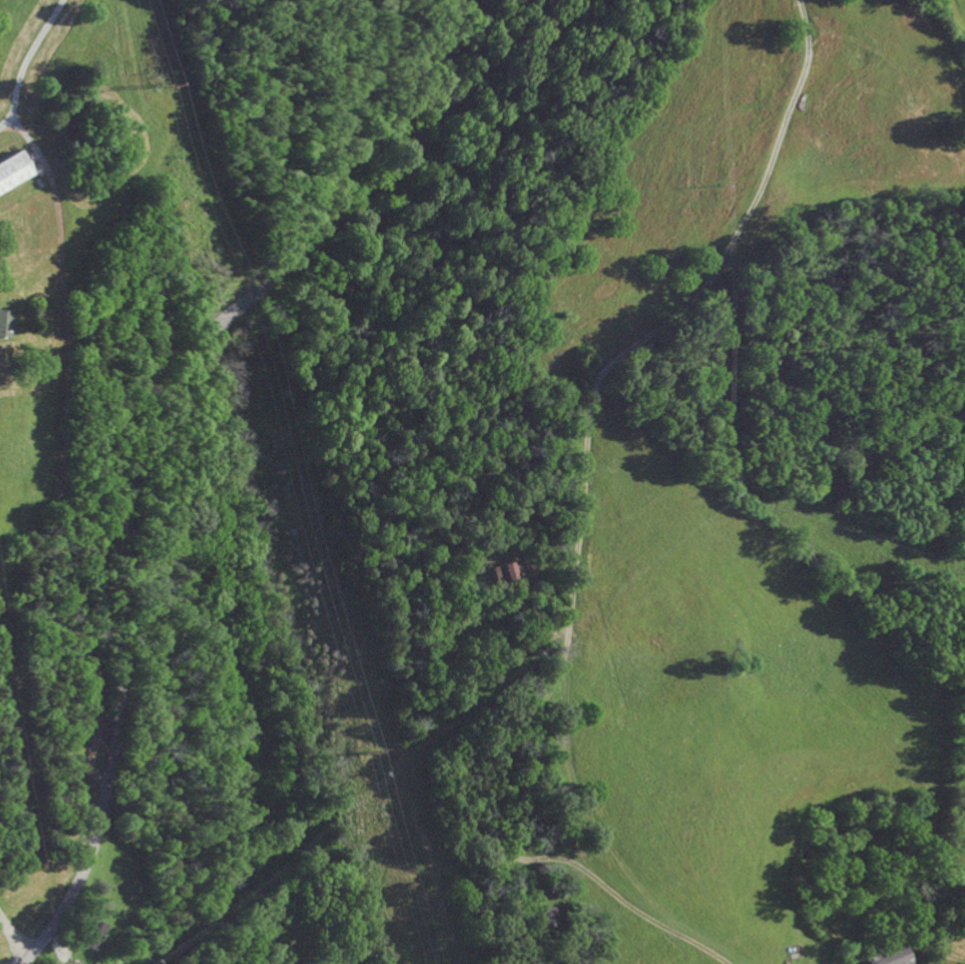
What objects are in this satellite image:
road: (26, 61)
power tower: (160, 83)
building: (11, 170)
building: (4, 324)
road: (593, 395)
road: (65, 399)
road: (153, 417)
building: (504, 572)
road: (94, 741)
power tower: (360, 751)
road: (13, 934)
building: (91, 935)
building: (882, 956)

